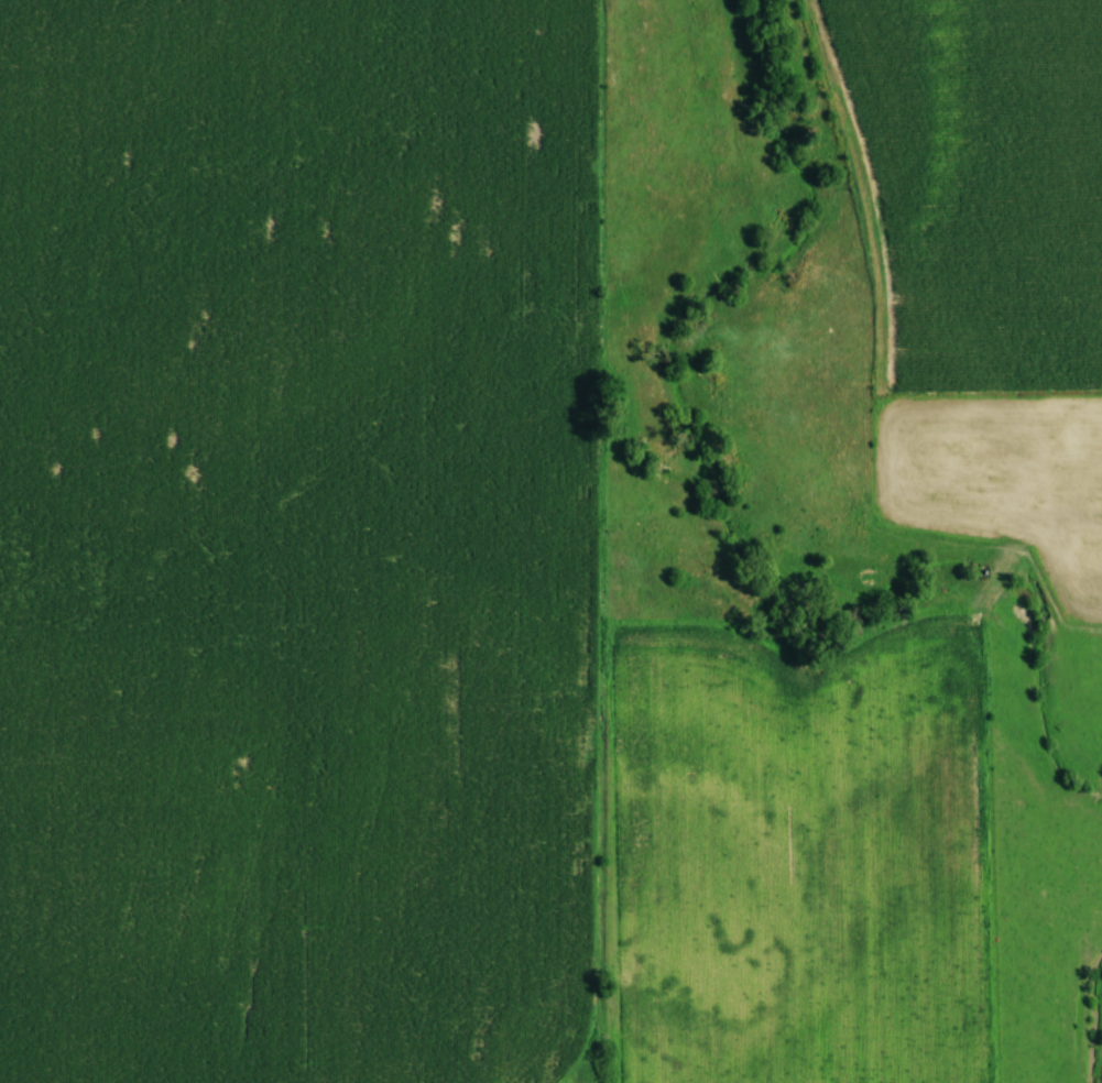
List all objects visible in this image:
crop: (971, 183)
crop: (292, 540)
crop: (792, 856)

